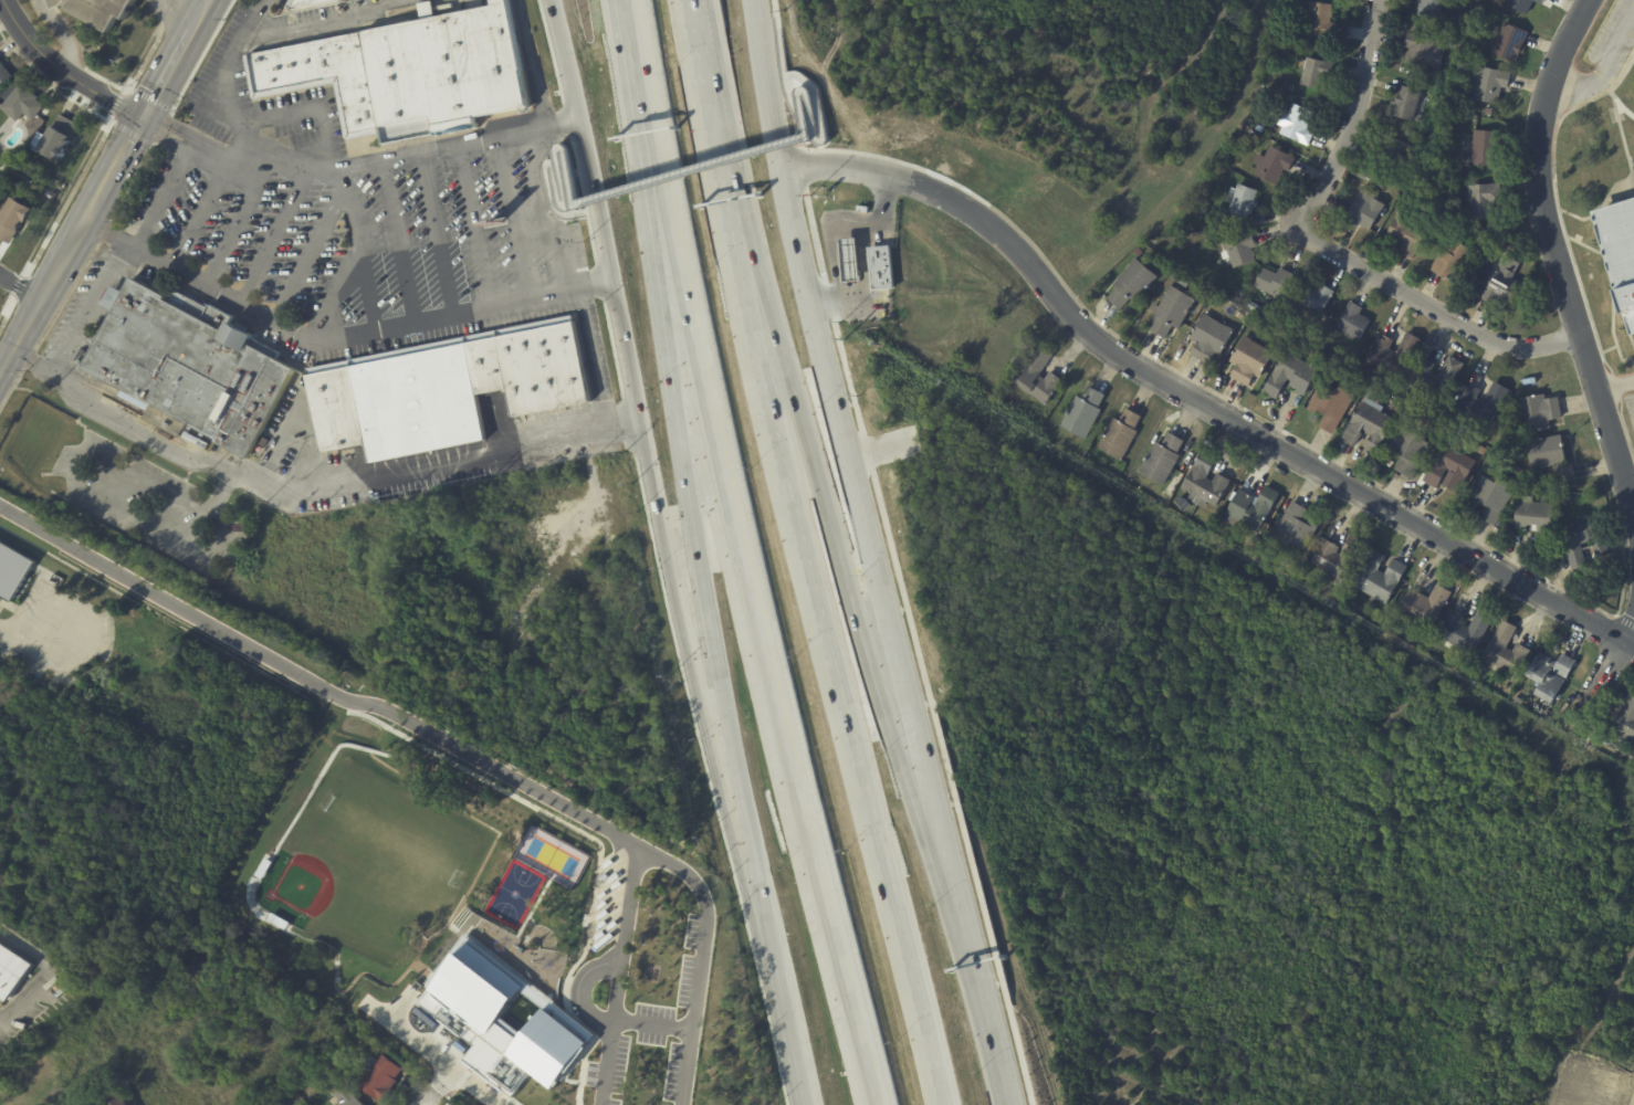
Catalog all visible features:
building: (1540, 1)
building: (310, 3)
building: (1520, 4)
building: (1431, 8)
building: (102, 10)
road: (191, 13)
road: (170, 14)
road: (325, 20)
building: (1321, 20)
road: (13, 24)
road: (60, 35)
road: (632, 41)
building: (1510, 42)
building: (1454, 43)
building: (1421, 51)
road: (190, 64)
road: (527, 65)
road: (1602, 67)
road: (158, 71)
building: (1316, 72)
road: (783, 73)
building: (408, 74)
building: (3, 75)
road: (221, 75)
building: (1488, 84)
road: (771, 85)
building: (1289, 87)
road: (83, 88)
road: (804, 91)
road: (815, 101)
building: (21, 104)
building: (1408, 104)
road: (1620, 105)
road: (303, 108)
road: (713, 115)
traffic signals: (143, 120)
road: (1350, 120)
building: (1297, 124)
road: (562, 127)
building: (1259, 128)
road: (180, 130)
building: (1251, 133)
building: (56, 138)
road: (1622, 141)
road: (170, 146)
road: (559, 147)
building: (1486, 148)
building: (1397, 154)
road: (119, 159)
road: (85, 160)
road: (377, 161)
building: (1272, 164)
road: (690, 170)
building: (1363, 172)
road: (545, 175)
road: (1613, 187)
road: (155, 199)
building: (1484, 199)
building: (1438, 200)
building: (1242, 201)
road: (1610, 203)
road: (583, 204)
building: (1362, 209)
road: (599, 210)
road: (547, 213)
road: (198, 214)
building: (13, 220)
road: (514, 220)
road: (233, 225)
road: (473, 229)
building: (1406, 234)
road: (266, 235)
road: (436, 236)
road: (830, 242)
road: (1565, 242)
road: (313, 244)
road: (398, 244)
road: (1583, 245)
road: (860, 250)
building: (1239, 250)
building: (1620, 250)
building: (1138, 252)
road: (359, 259)
road: (1554, 259)
building: (850, 260)
gas station: (850, 260)
building: (1453, 260)
road: (1607, 264)
building: (880, 267)
building: (1274, 282)
road: (48, 284)
building: (1132, 284)
road: (595, 285)
road: (20, 287)
building: (1501, 287)
building: (1316, 298)
road: (336, 301)
building: (1254, 307)
road: (1432, 308)
road: (86, 311)
building: (1172, 311)
road: (1624, 315)
building: (1269, 317)
building: (1353, 322)
road: (1612, 331)
building: (1211, 338)
road: (318, 341)
building: (1312, 341)
road: (1607, 349)
building: (1393, 355)
road: (595, 358)
building: (1250, 361)
building: (193, 367)
building: (1290, 376)
building: (1038, 377)
building: (1435, 378)
road: (1615, 387)
parking lot: (1630, 391)
building: (446, 392)
road: (1193, 400)
building: (1481, 403)
building: (1331, 407)
road: (1250, 412)
building: (1539, 412)
building: (1082, 413)
road: (627, 427)
building: (1368, 428)
building: (1119, 435)
building: (1412, 453)
road: (680, 456)
building: (1551, 457)
building: (1162, 459)
building: (1450, 469)
building: (1205, 482)
road: (296, 491)
building: (1492, 497)
road: (1632, 503)
building: (1183, 504)
building: (1251, 508)
road: (860, 515)
building: (1536, 520)
building: (1212, 522)
building: (1295, 528)
building: (1584, 540)
road: (839, 544)
building: (1591, 551)
building: (1338, 557)
building: (12, 569)
building: (1381, 578)
road: (748, 596)
building: (1425, 607)
road: (821, 614)
road: (1624, 620)
road: (907, 625)
road: (690, 627)
road: (8, 628)
road: (92, 629)
road: (1628, 630)
building: (1466, 631)
building: (1423, 641)
road: (1628, 644)
building: (1507, 651)
road: (1631, 664)
building: (1550, 674)
road: (1603, 680)
building: (1518, 702)
building: (1625, 723)
road: (452, 744)
building: (385, 749)
building: (1632, 757)
road: (771, 967)
building: (11, 971)
road: (41, 972)
road: (618, 975)
road: (975, 981)
road: (580, 988)
building: (65, 989)
road: (652, 1023)
road: (929, 1052)
road: (436, 1054)
building: (327, 1067)
building: (379, 1076)
road: (442, 1080)
building: (106, 1088)
building: (346, 1096)
road: (427, 1098)
building: (114, 1101)

